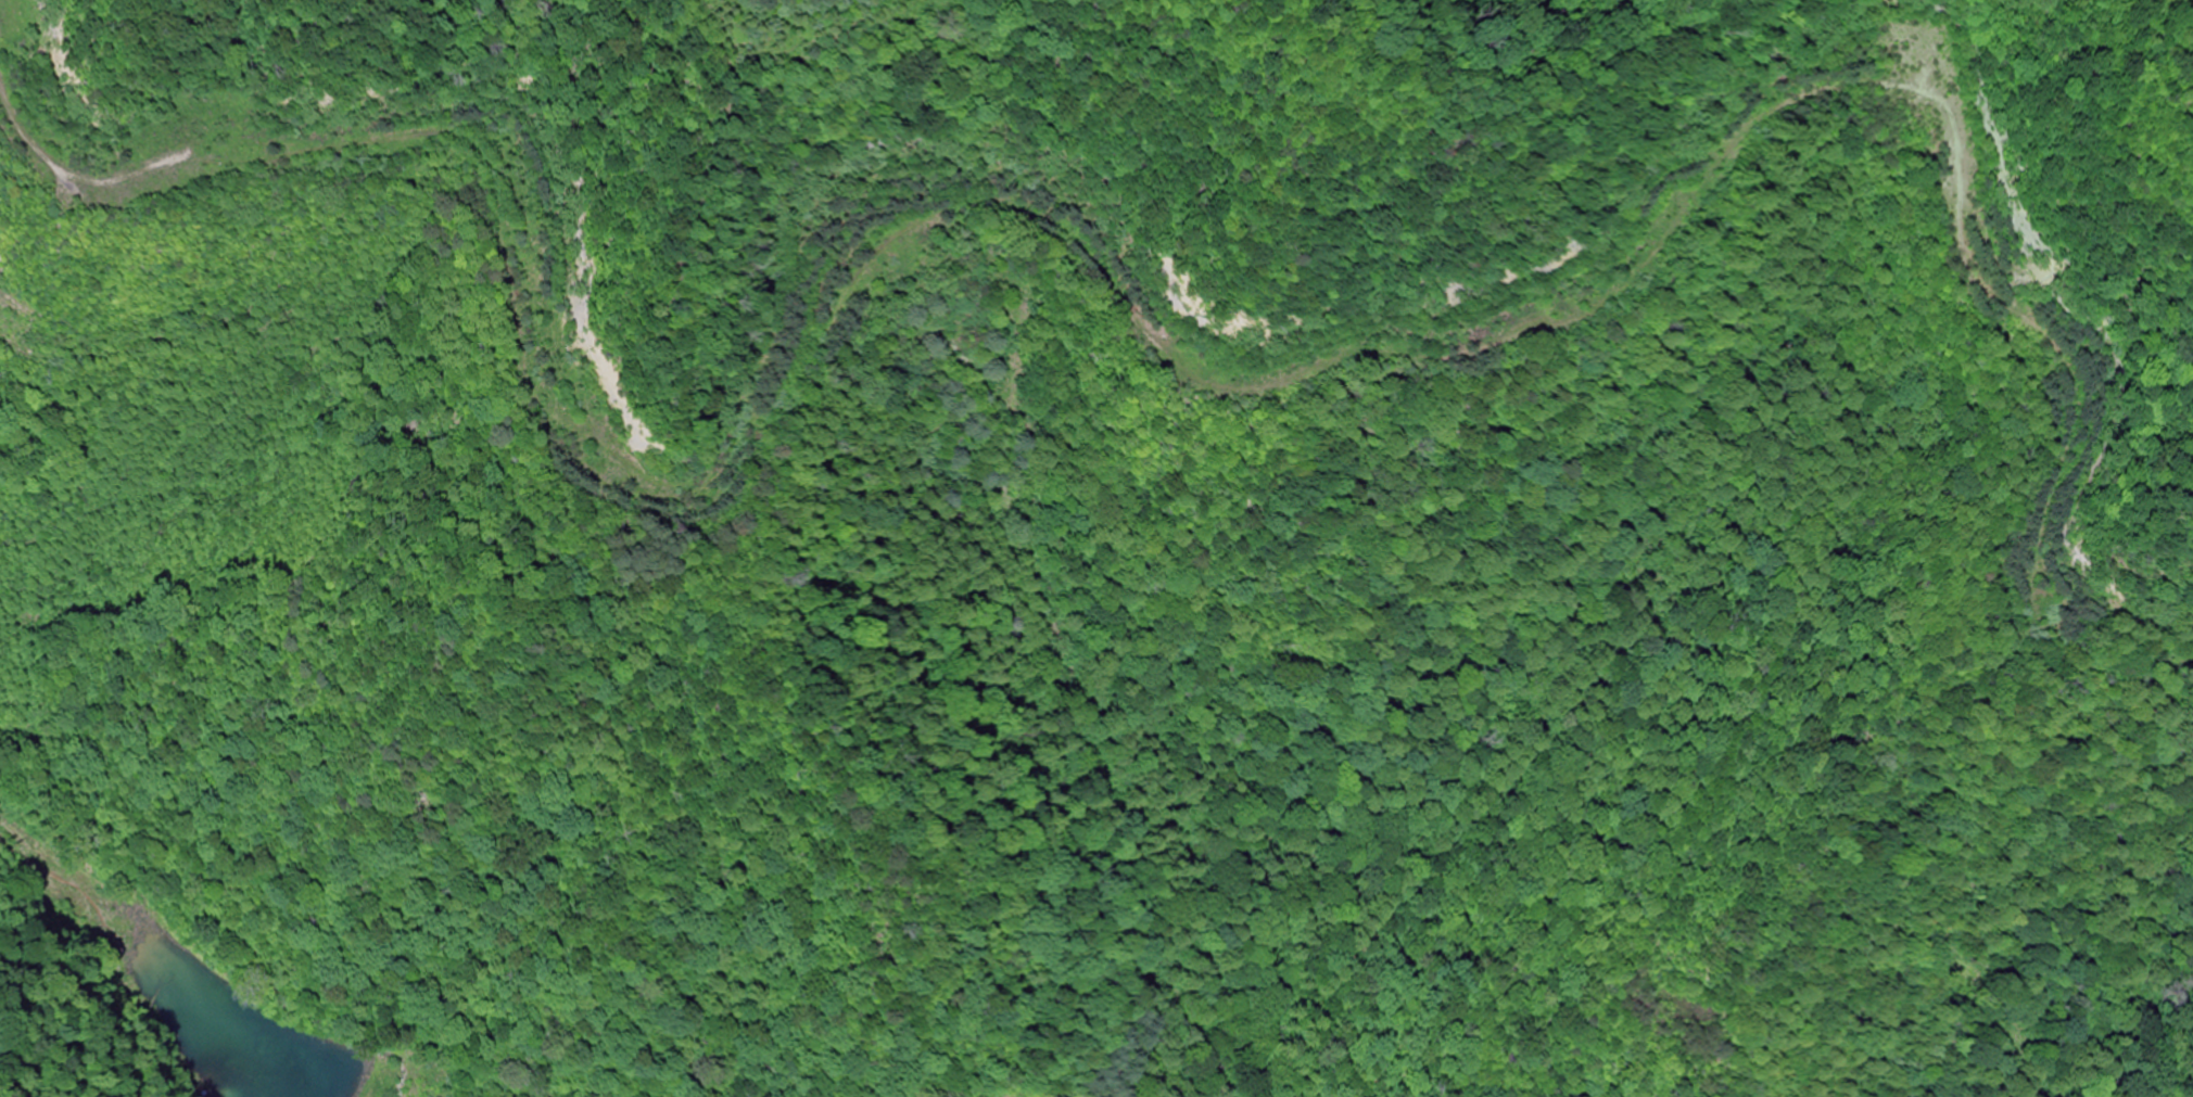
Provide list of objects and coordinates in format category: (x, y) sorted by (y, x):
building: (89, 191)

